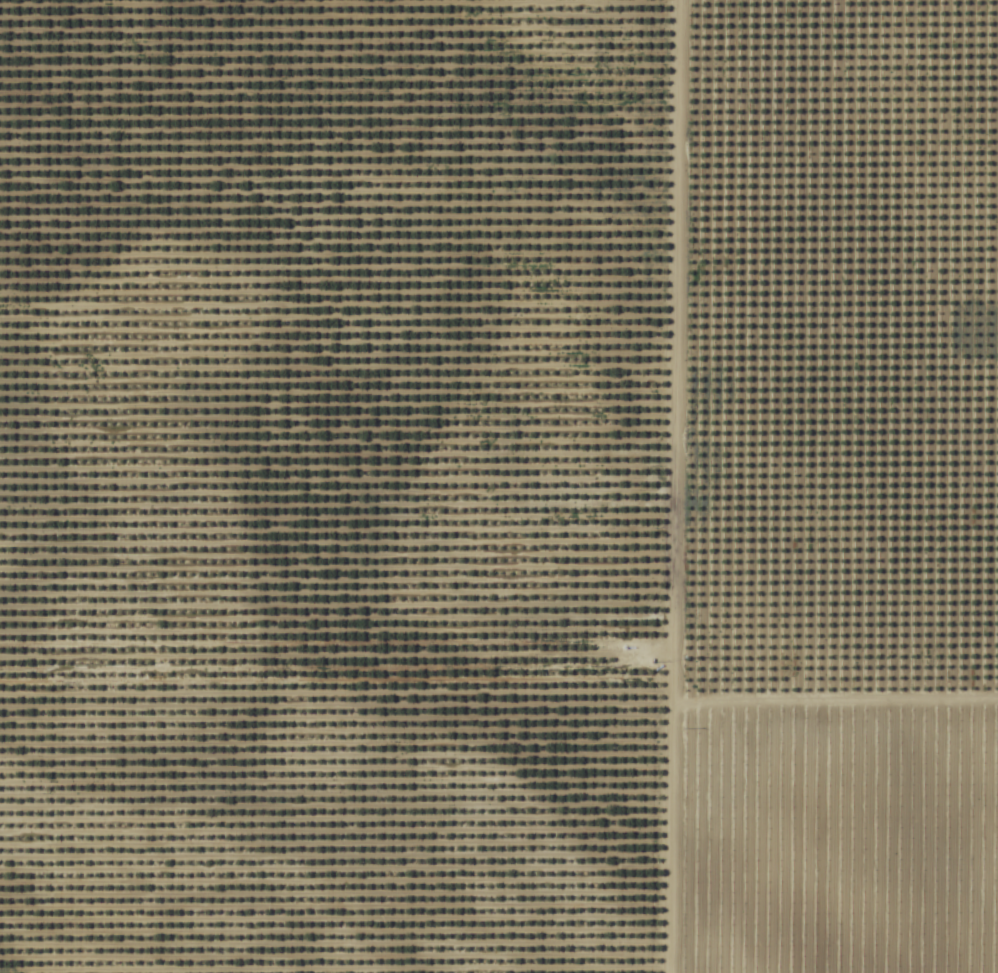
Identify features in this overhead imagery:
road: (649, 486)

